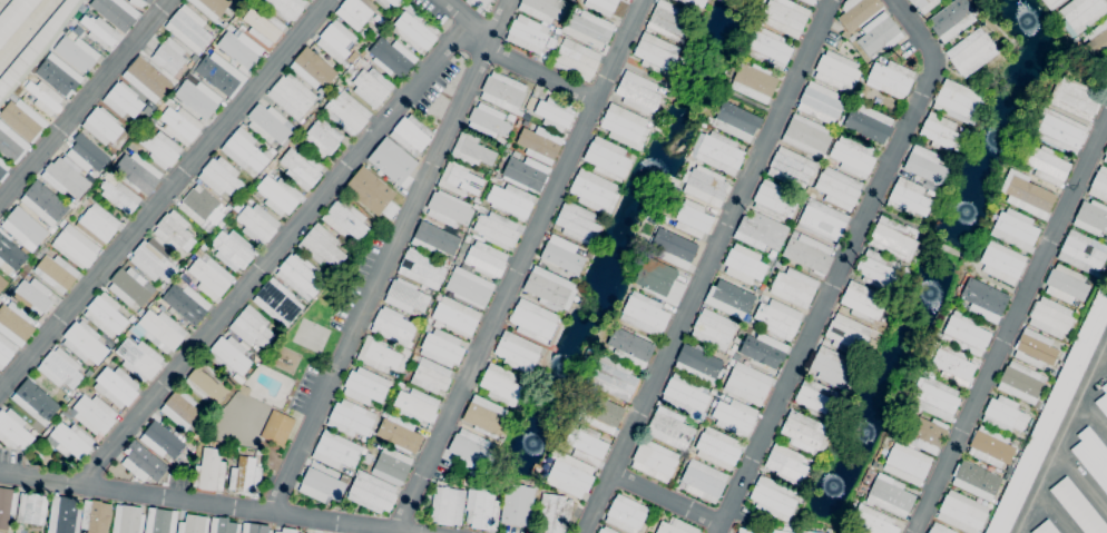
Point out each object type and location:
building: (400, 0)
building: (148, 1)
building: (809, 1)
building: (480, 2)
building: (388, 3)
building: (693, 3)
building: (1051, 3)
building: (406, 4)
building: (924, 4)
building: (601, 6)
building: (212, 7)
building: (285, 8)
building: (545, 9)
building: (413, 10)
building: (116, 12)
building: (356, 12)
building: (858, 12)
building: (1082, 12)
building: (13, 17)
building: (785, 17)
building: (952, 19)
building: (670, 21)
building: (264, 26)
building: (590, 27)
building: (190, 29)
building: (415, 30)
road: (26, 31)
building: (100, 31)
building: (528, 33)
building: (844, 33)
building: (879, 33)
building: (362, 34)
building: (556, 34)
building: (851, 38)
building: (336, 41)
building: (557, 41)
building: (1097, 41)
building: (36, 48)
building: (768, 49)
building: (971, 51)
building: (77, 52)
building: (246, 53)
building: (656, 53)
building: (169, 56)
building: (392, 57)
building: (576, 59)
road: (512, 60)
building: (359, 62)
building: (366, 65)
building: (312, 68)
building: (836, 70)
building: (219, 73)
building: (59, 75)
building: (892, 78)
building: (725, 79)
building: (147, 80)
building: (754, 82)
building: (862, 82)
building: (372, 87)
building: (321, 90)
building: (503, 92)
building: (637, 92)
building: (851, 92)
building: (292, 96)
building: (45, 97)
building: (198, 98)
building: (1075, 98)
road: (84, 100)
building: (123, 100)
building: (167, 100)
building: (957, 101)
building: (820, 102)
building: (147, 110)
building: (346, 111)
building: (555, 112)
building: (313, 116)
building: (525, 116)
building: (510, 118)
building: (128, 119)
building: (23, 120)
building: (301, 121)
building: (488, 121)
building: (736, 121)
building: (518, 122)
building: (869, 122)
building: (268, 124)
building: (180, 125)
building: (102, 126)
building: (625, 126)
building: (1059, 130)
building: (411, 134)
building: (941, 134)
building: (807, 136)
building: (322, 138)
building: (11, 144)
building: (540, 144)
building: (507, 145)
building: (280, 148)
building: (160, 149)
building: (244, 150)
building: (471, 150)
building: (1106, 151)
building: (417, 152)
building: (718, 152)
building: (87, 155)
building: (853, 156)
building: (608, 158)
building: (1106, 159)
building: (393, 161)
building: (924, 165)
building: (270, 166)
building: (1047, 166)
building: (302, 168)
building: (791, 168)
building: (3, 169)
building: (137, 172)
building: (525, 172)
building: (253, 175)
building: (222, 177)
building: (65, 178)
building: (459, 179)
building: (499, 180)
building: (705, 185)
building: (1099, 185)
building: (839, 188)
building: (809, 189)
building: (594, 191)
building: (372, 193)
building: (931, 193)
building: (278, 195)
building: (1027, 195)
building: (120, 196)
road: (164, 196)
building: (909, 198)
building: (90, 200)
building: (774, 200)
building: (510, 201)
building: (45, 203)
building: (71, 205)
building: (198, 205)
building: (479, 208)
building: (449, 209)
building: (1091, 217)
building: (693, 218)
building: (345, 219)
building: (666, 219)
building: (822, 220)
building: (62, 223)
building: (578, 223)
building: (221, 224)
building: (257, 224)
building: (98, 225)
building: (23, 227)
building: (55, 227)
building: (497, 229)
building: (1015, 229)
building: (452, 230)
building: (761, 230)
building: (175, 231)
building: (795, 234)
building: (894, 238)
building: (349, 239)
building: (468, 239)
building: (434, 240)
building: (322, 246)
building: (76, 247)
building: (674, 248)
building: (233, 249)
building: (10, 251)
road: (275, 253)
building: (1082, 253)
building: (202, 254)
building: (809, 254)
building: (562, 255)
road: (389, 256)
building: (459, 259)
building: (486, 259)
building: (154, 260)
building: (447, 263)
building: (1002, 263)
building: (777, 264)
road: (842, 264)
road: (519, 265)
building: (744, 265)
road: (707, 266)
building: (467, 267)
building: (421, 268)
building: (878, 269)
building: (57, 273)
building: (301, 276)
building: (210, 277)
building: (176, 279)
building: (659, 280)
building: (157, 282)
building: (3, 284)
building: (1066, 284)
building: (163, 285)
building: (129, 287)
building: (469, 287)
building: (762, 287)
building: (794, 287)
building: (551, 289)
building: (35, 296)
building: (405, 296)
building: (729, 299)
building: (983, 300)
building: (278, 302)
building: (864, 302)
building: (186, 303)
building: (1081, 306)
building: (1079, 312)
building: (645, 314)
building: (106, 315)
building: (457, 316)
building: (424, 317)
building: (1051, 317)
building: (131, 318)
building: (746, 318)
building: (778, 318)
building: (16, 320)
building: (429, 320)
building: (535, 320)
building: (252, 327)
building: (393, 327)
building: (427, 327)
road: (1011, 328)
building: (713, 329)
building: (747, 329)
building: (161, 330)
building: (128, 333)
building: (848, 334)
building: (966, 334)
park: (311, 335)
building: (117, 339)
building: (85, 343)
building: (872, 344)
building: (441, 347)
building: (630, 347)
building: (734, 347)
building: (1036, 348)
building: (6, 349)
building: (764, 349)
building: (257, 351)
building: (518, 352)
building: (729, 352)
building: (379, 354)
building: (229, 355)
road: (1104, 357)
building: (139, 358)
building: (107, 359)
building: (732, 362)
building: (293, 363)
building: (698, 364)
building: (953, 365)
building: (832, 367)
building: (60, 368)
building: (932, 371)
building: (1052, 372)
building: (232, 374)
building: (399, 376)
building: (431, 376)
building: (611, 377)
building: (206, 383)
building: (1021, 383)
building: (502, 384)
building: (747, 384)
building: (401, 385)
building: (116, 386)
building: (365, 386)
building: (245, 391)
building: (684, 394)
building: (717, 395)
building: (937, 398)
building: (35, 399)
building: (75, 399)
building: (816, 399)
building: (1103, 401)
building: (417, 405)
building: (216, 409)
building: (601, 409)
building: (183, 411)
building: (95, 414)
building: (1005, 414)
building: (1050, 416)
building: (487, 417)
building: (735, 417)
building: (350, 418)
building: (707, 421)
road: (1093, 421)
building: (277, 427)
building: (670, 428)
building: (13, 430)
building: (399, 433)
building: (805, 433)
building: (925, 433)
road: (1062, 437)
building: (70, 441)
building: (161, 441)
building: (368, 441)
building: (586, 444)
building: (364, 445)
building: (991, 447)
building: (236, 448)
building: (718, 448)
building: (472, 450)
building: (336, 451)
building: (364, 451)
building: (690, 454)
building: (1093, 456)
building: (806, 460)
building: (655, 461)
building: (144, 463)
building: (908, 463)
building: (786, 464)
building: (392, 465)
building: (1008, 468)
building: (209, 471)
building: (466, 471)
building: (569, 474)
building: (245, 476)
building: (977, 480)
building: (466, 481)
building: (704, 481)
road: (1081, 483)
building: (321, 485)
building: (372, 492)
road: (135, 493)
building: (890, 495)
building: (774, 497)
road: (666, 499)
building: (518, 504)
building: (447, 505)
building: (7, 507)
building: (1078, 507)
building: (32, 509)
building: (482, 510)
building: (962, 512)
building: (851, 513)
building: (553, 514)
building: (626, 514)
road: (1052, 514)
building: (65, 515)
building: (95, 516)
building: (128, 519)
building: (160, 521)
road: (336, 522)
building: (871, 522)
building: (194, 524)
building: (223, 525)
building: (676, 526)
building: (255, 527)
building: (1046, 527)
building: (940, 529)
building: (606, 530)
building: (745, 530)
building: (287, 531)
building: (776, 532)
building: (805, 532)

